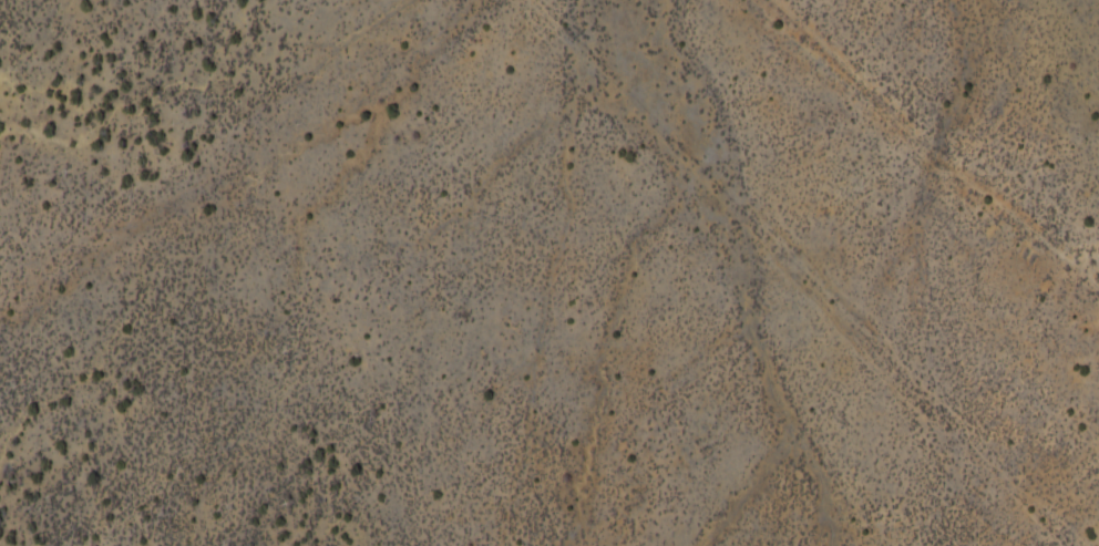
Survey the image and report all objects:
road: (924, 145)

